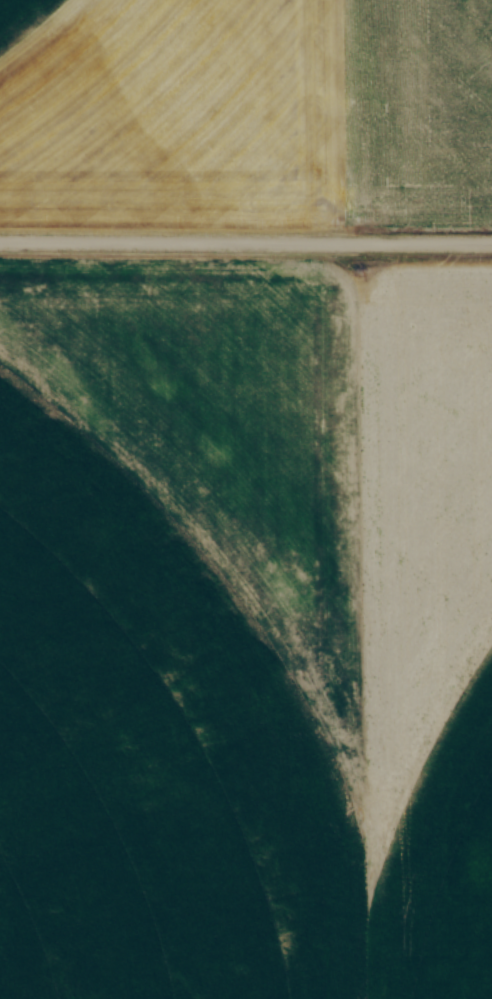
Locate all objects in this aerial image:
crop: (28, 23)
road: (246, 241)
crop: (206, 657)

